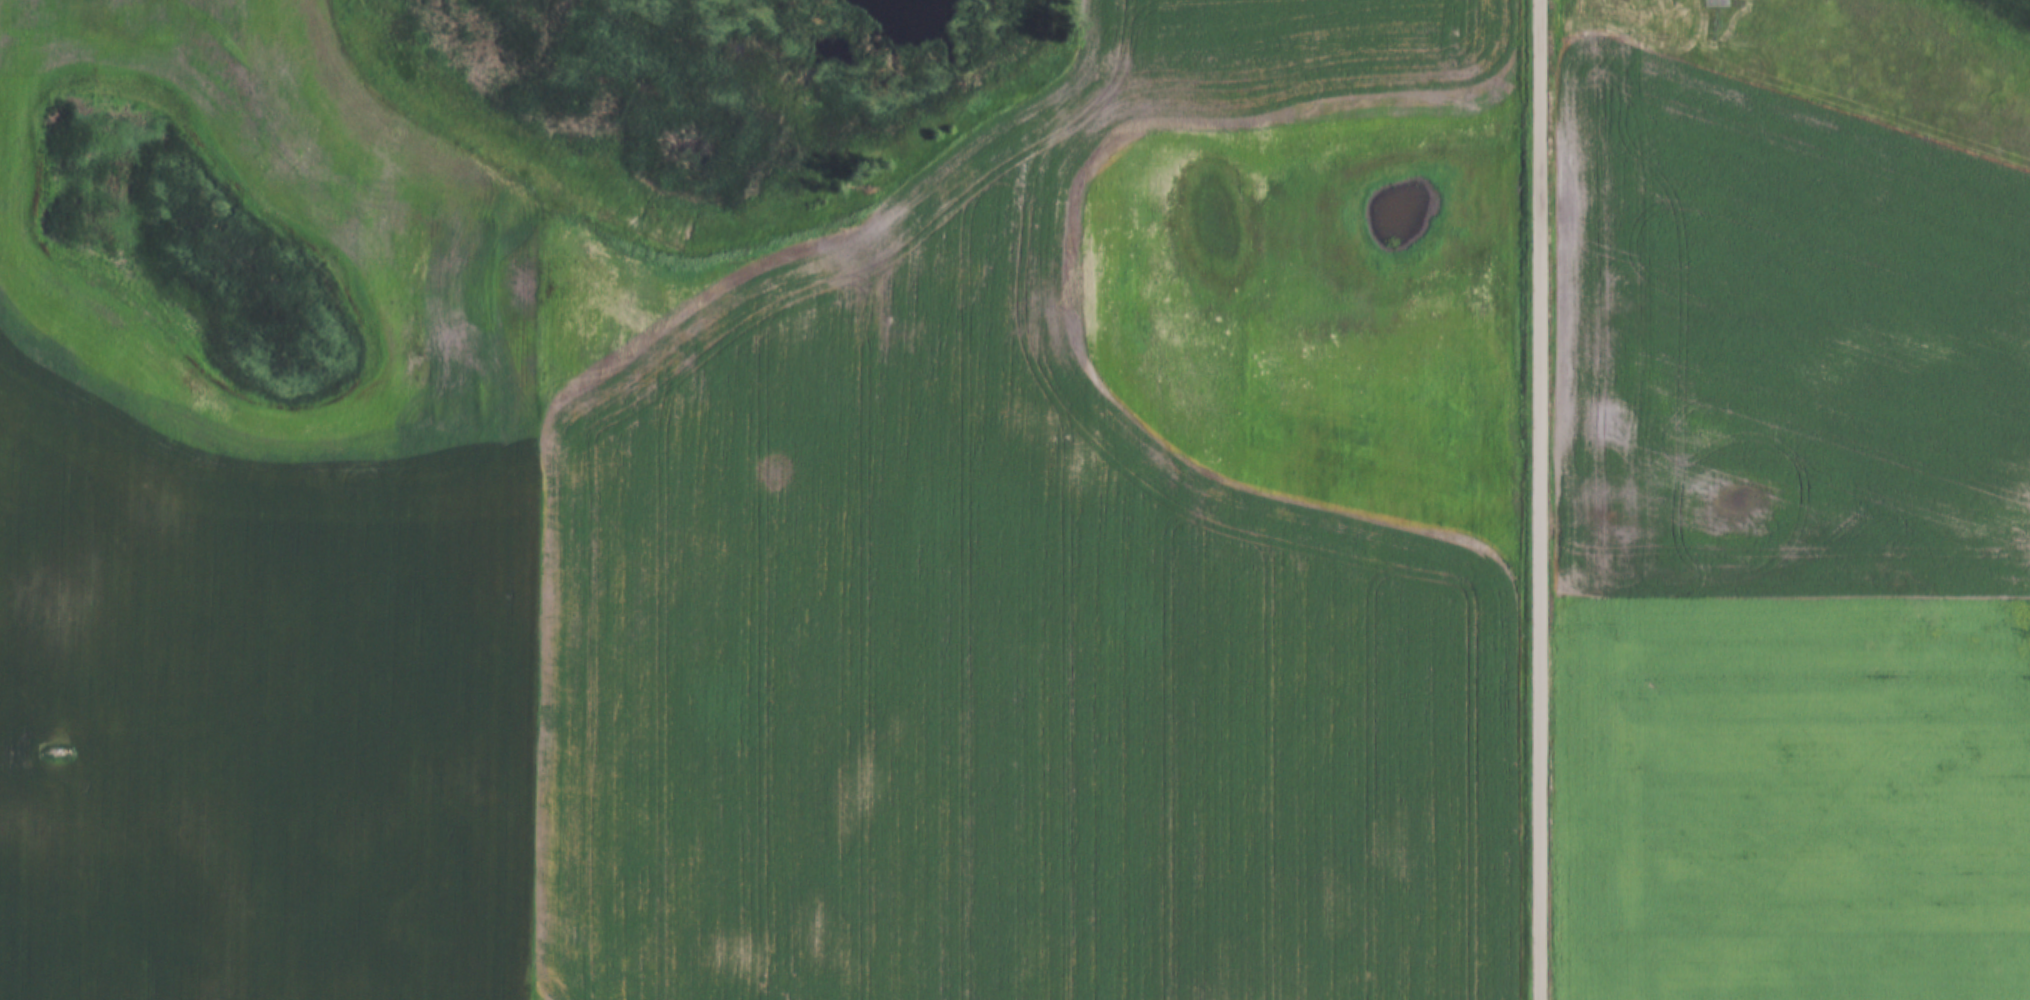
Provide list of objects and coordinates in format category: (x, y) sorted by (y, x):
road: (1542, 499)

